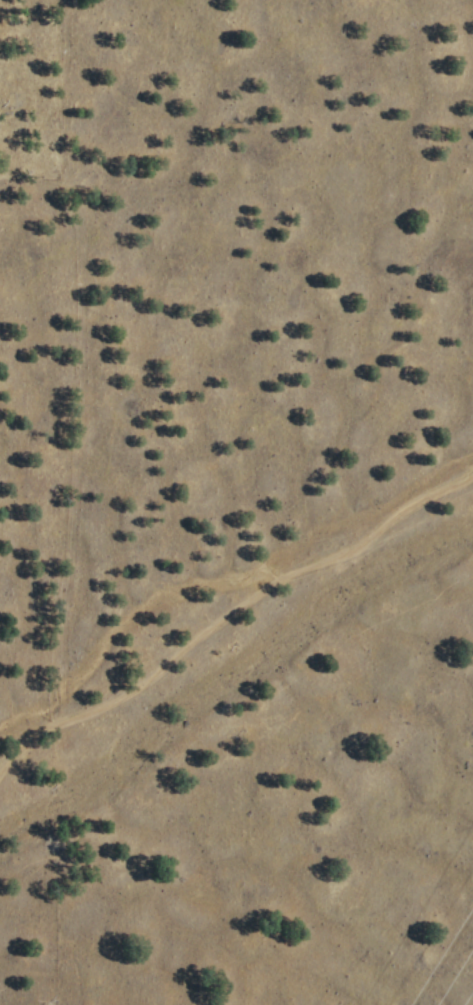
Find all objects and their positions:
road: (230, 617)

